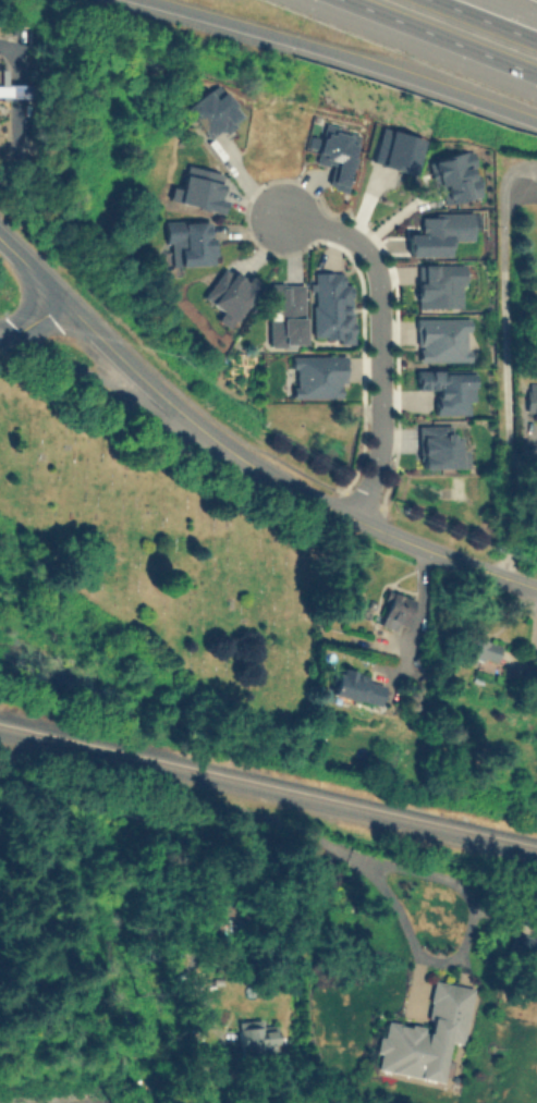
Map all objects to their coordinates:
road: (484, 21)
road: (440, 37)
road: (344, 54)
building: (198, 187)
building: (187, 241)
building: (439, 284)
building: (228, 294)
building: (330, 305)
building: (284, 312)
road: (33, 322)
building: (441, 339)
road: (378, 340)
road: (103, 343)
road: (503, 358)
building: (317, 375)
road: (106, 389)
building: (448, 389)
building: (532, 405)
building: (439, 446)
road: (522, 461)
road: (368, 527)
building: (393, 610)
road: (419, 611)
building: (480, 648)
building: (355, 685)
railway: (268, 784)
road: (125, 786)
road: (418, 949)
building: (253, 1034)
building: (425, 1034)

